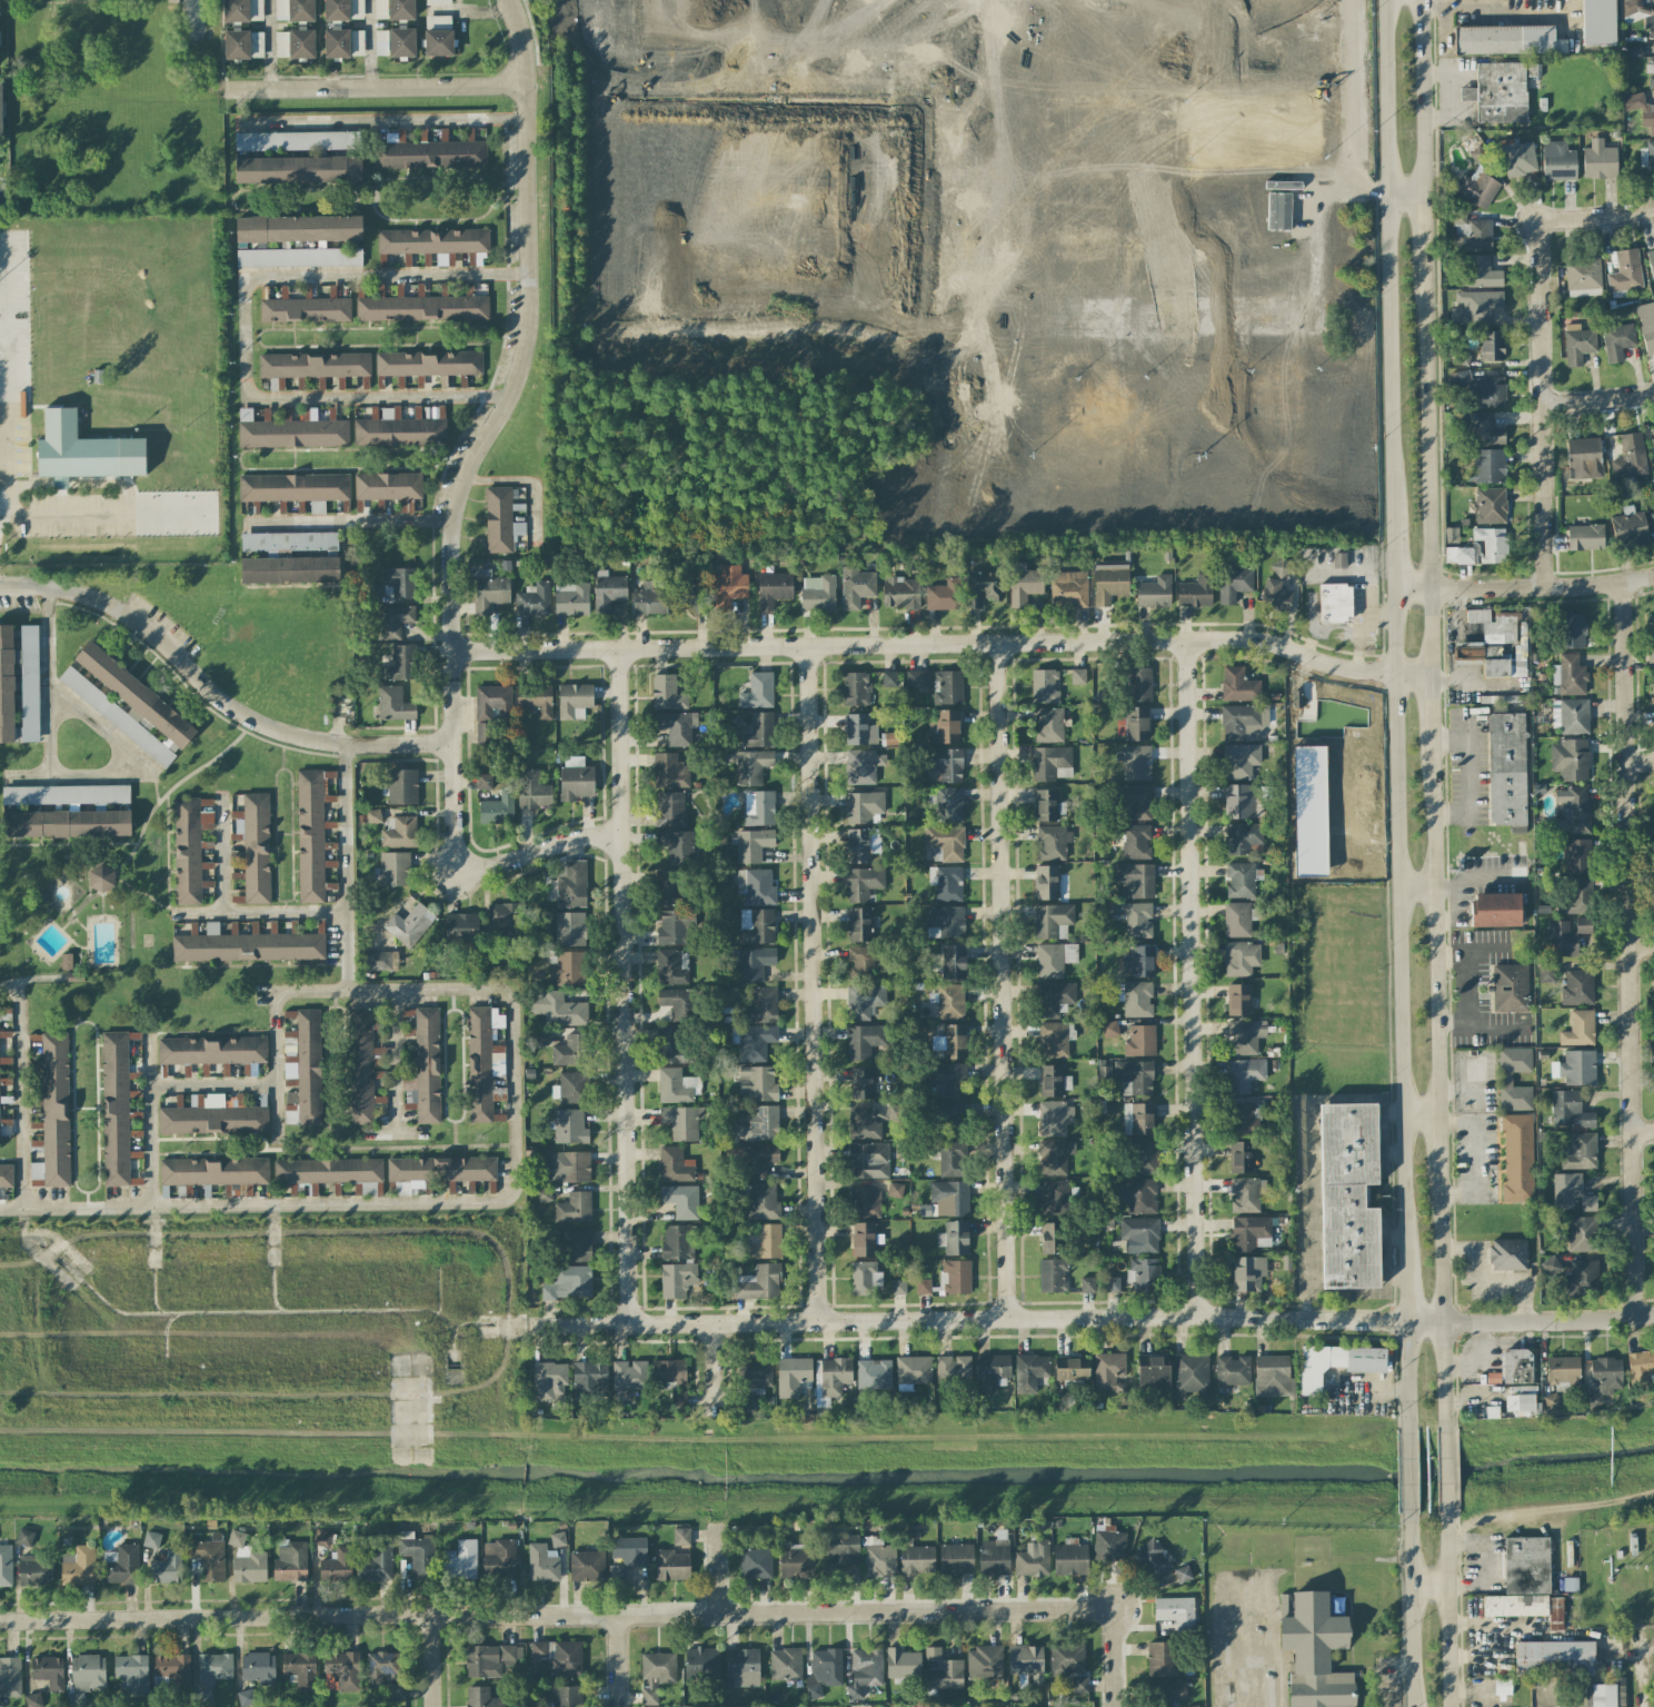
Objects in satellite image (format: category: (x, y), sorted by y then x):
building: (437, 2)
building: (1307, 3)
building: (1218, 4)
road: (1469, 7)
road: (1033, 8)
road: (1167, 8)
building: (357, 9)
building: (380, 9)
building: (400, 9)
building: (242, 10)
building: (293, 10)
building: (336, 10)
road: (467, 11)
building: (1638, 13)
park: (749, 16)
road: (196, 18)
building: (437, 22)
building: (1597, 22)
park: (1165, 40)
building: (1507, 40)
building: (358, 42)
building: (380, 42)
building: (401, 42)
building: (438, 42)
road: (268, 43)
building: (295, 43)
building: (336, 43)
road: (368, 43)
building: (242, 44)
building: (1634, 52)
building: (1533, 70)
building: (1651, 71)
road: (377, 87)
building: (1498, 92)
road: (1418, 96)
road: (601, 102)
park: (755, 103)
road: (1357, 107)
building: (1643, 111)
building: (0, 112)
road: (380, 120)
park: (1302, 127)
park: (1238, 128)
park: (1269, 128)
park: (1206, 129)
building: (293, 141)
building: (429, 152)
building: (1646, 156)
building: (1518, 159)
building: (1598, 160)
building: (1557, 161)
building: (298, 170)
building: (1477, 188)
road: (1403, 191)
road: (1421, 215)
road: (1595, 216)
building: (298, 229)
building: (1471, 231)
park: (756, 236)
building: (432, 241)
building: (298, 257)
road: (1385, 261)
building: (1651, 262)
building: (1625, 271)
building: (1484, 272)
park: (955, 275)
building: (1583, 276)
building: (1473, 305)
road: (760, 307)
building: (421, 308)
building: (305, 309)
road: (245, 324)
building: (1646, 325)
building: (1617, 340)
building: (1577, 344)
building: (1491, 346)
building: (428, 363)
building: (311, 366)
building: (1482, 389)
road: (1597, 401)
road: (1540, 403)
building: (400, 428)
building: (1483, 430)
building: (290, 431)
building: (1652, 433)
building: (83, 451)
road: (1425, 454)
road: (6, 456)
road: (475, 456)
building: (1630, 457)
building: (1583, 458)
building: (1653, 464)
building: (1488, 466)
building: (389, 487)
building: (295, 488)
building: (1489, 506)
road: (66, 516)
building: (1652, 518)
building: (500, 520)
road: (347, 522)
building: (1628, 527)
building: (1451, 535)
building: (1585, 537)
building: (1479, 548)
road: (1388, 556)
building: (290, 557)
building: (1338, 559)
building: (1281, 567)
road: (1348, 569)
building: (399, 583)
building: (1109, 583)
building: (1233, 583)
building: (1023, 584)
building: (729, 586)
building: (856, 586)
building: (982, 587)
building: (1069, 588)
road: (1522, 588)
building: (773, 589)
building: (607, 590)
building: (489, 592)
building: (1154, 592)
building: (1195, 592)
building: (817, 593)
building: (900, 593)
building: (944, 595)
building: (690, 596)
building: (1275, 596)
building: (570, 598)
building: (650, 598)
building: (532, 599)
building: (1335, 603)
road: (1378, 614)
building: (392, 621)
building: (1651, 624)
building: (1494, 626)
road: (1363, 629)
building: (1573, 631)
road: (941, 645)
building: (1467, 651)
building: (1650, 654)
building: (399, 664)
building: (1506, 665)
building: (1568, 675)
road: (58, 676)
building: (1077, 676)
building: (888, 678)
building: (916, 678)
building: (6, 683)
building: (29, 683)
building: (1138, 684)
building: (1238, 685)
building: (1044, 686)
building: (947, 687)
building: (856, 688)
building: (757, 692)
building: (666, 693)
building: (134, 694)
road: (213, 695)
building: (1296, 698)
building: (535, 701)
building: (574, 701)
building: (392, 704)
building: (1652, 704)
road: (1427, 705)
building: (490, 709)
building: (1570, 716)
building: (116, 717)
building: (1243, 722)
building: (1136, 724)
building: (1048, 725)
building: (947, 726)
building: (676, 727)
building: (859, 730)
building: (756, 731)
road: (1448, 738)
building: (1570, 760)
building: (1239, 761)
building: (1052, 763)
building: (1136, 763)
building: (947, 764)
road: (1641, 765)
building: (749, 766)
building: (861, 766)
road: (161, 770)
building: (669, 771)
building: (1506, 771)
building: (575, 778)
building: (484, 782)
road: (1468, 782)
building: (401, 786)
building: (532, 790)
building: (1136, 801)
building: (1238, 801)
building: (1653, 802)
building: (948, 805)
building: (1046, 805)
building: (863, 806)
building: (758, 807)
building: (497, 808)
building: (670, 808)
building: (1309, 810)
building: (1572, 811)
building: (67, 812)
building: (372, 816)
building: (312, 833)
building: (400, 833)
building: (1242, 837)
building: (1135, 841)
road: (568, 842)
building: (946, 842)
building: (1052, 843)
building: (753, 845)
building: (857, 845)
building: (677, 846)
building: (190, 847)
building: (253, 847)
building: (1576, 855)
road: (350, 862)
road: (228, 863)
building: (395, 869)
building: (1653, 870)
building: (100, 877)
building: (1135, 880)
building: (1239, 880)
building: (946, 882)
building: (1046, 882)
building: (863, 883)
road: (1468, 883)
building: (570, 884)
building: (755, 886)
building: (672, 887)
road: (1413, 892)
building: (1575, 897)
building: (1493, 907)
road: (260, 915)
building: (505, 919)
building: (1135, 919)
building: (1238, 919)
building: (946, 920)
building: (1052, 921)
building: (859, 924)
building: (408, 925)
building: (1583, 925)
building: (675, 926)
building: (756, 926)
building: (460, 927)
road: (1432, 927)
building: (569, 929)
road: (1395, 931)
building: (1562, 940)
building: (246, 945)
road: (1631, 950)
road: (1643, 951)
building: (1054, 959)
building: (1240, 959)
building: (66, 961)
building: (378, 961)
building: (1142, 961)
building: (953, 962)
building: (754, 963)
building: (859, 963)
building: (671, 966)
building: (567, 969)
building: (1545, 971)
road: (1193, 977)
road: (1004, 982)
road: (815, 984)
road: (625, 986)
building: (1509, 988)
building: (1577, 988)
road: (1469, 989)
building: (1653, 993)
building: (1054, 999)
building: (1136, 999)
building: (1238, 1000)
building: (864, 1001)
building: (949, 1002)
building: (678, 1004)
building: (763, 1005)
building: (557, 1008)
building: (1578, 1029)
building: (1109, 1030)
building: (1244, 1035)
building: (539, 1038)
building: (1054, 1039)
building: (864, 1040)
building: (955, 1041)
building: (1139, 1041)
building: (755, 1042)
building: (670, 1045)
building: (211, 1050)
building: (570, 1050)
road: (396, 1058)
building: (361, 1065)
building: (482, 1066)
building: (1575, 1068)
building: (425, 1069)
building: (302, 1070)
building: (1104, 1072)
building: (1243, 1074)
building: (1134, 1078)
building: (1505, 1079)
road: (27, 1080)
building: (949, 1081)
building: (1054, 1081)
road: (216, 1082)
building: (758, 1083)
building: (863, 1083)
building: (676, 1086)
building: (570, 1088)
road: (1469, 1088)
building: (1106, 1106)
building: (116, 1109)
building: (1570, 1109)
building: (53, 1114)
road: (1387, 1114)
road: (1418, 1114)
building: (212, 1115)
building: (1244, 1117)
road: (155, 1118)
building: (1054, 1118)
building: (1137, 1119)
building: (950, 1120)
building: (868, 1121)
building: (681, 1122)
building: (757, 1125)
building: (569, 1127)
road: (400, 1132)
road: (1644, 1133)
road: (1437, 1145)
building: (34, 1147)
road: (517, 1149)
building: (1581, 1152)
road: (1388, 1153)
building: (1143, 1155)
building: (1054, 1157)
building: (1240, 1157)
road: (1472, 1157)
building: (1517, 1157)
building: (951, 1159)
building: (757, 1160)
building: (868, 1160)
building: (675, 1165)
building: (568, 1167)
building: (440, 1170)
building: (215, 1172)
building: (332, 1173)
building: (6, 1175)
building: (402, 1189)
building: (895, 1190)
building: (1565, 1190)
building: (544, 1194)
building: (1246, 1194)
building: (1137, 1195)
building: (1348, 1195)
building: (1055, 1197)
building: (949, 1198)
building: (681, 1200)
building: (763, 1202)
building: (865, 1202)
building: (1587, 1203)
building: (574, 1208)
road: (1305, 1210)
building: (1251, 1233)
building: (1582, 1233)
building: (1139, 1234)
building: (954, 1238)
building: (1052, 1238)
road: (1392, 1238)
building: (864, 1239)
building: (677, 1242)
building: (764, 1242)
building: (577, 1245)
building: (1507, 1254)
building: (1551, 1266)
building: (1143, 1273)
building: (1247, 1273)
building: (1052, 1276)
building: (1583, 1276)
building: (956, 1277)
road: (1393, 1277)
building: (864, 1278)
building: (676, 1279)
building: (568, 1282)
building: (758, 1282)
building: (1112, 1283)
building: (1087, 1284)
building: (899, 1287)
building: (923, 1287)
road: (1403, 1296)
road: (1441, 1301)
road: (1104, 1317)
building: (1336, 1363)
building: (1641, 1363)
building: (1516, 1366)
road: (714, 1367)
building: (913, 1369)
building: (953, 1369)
building: (1072, 1369)
building: (669, 1370)
building: (1107, 1370)
building: (1233, 1370)
building: (1562, 1370)
building: (1029, 1372)
building: (1152, 1372)
building: (874, 1373)
building: (990, 1373)
building: (629, 1374)
building: (793, 1374)
building: (1189, 1374)
building: (833, 1376)
road: (1404, 1376)
building: (1272, 1377)
building: (587, 1378)
building: (1603, 1379)
building: (549, 1381)
building: (753, 1382)
building: (1521, 1390)
building: (677, 1400)
building: (1521, 1402)
road: (1443, 1469)
road: (1405, 1470)
building: (23, 1537)
building: (680, 1537)
building: (321, 1538)
building: (151, 1539)
building: (557, 1539)
building: (1108, 1544)
building: (841, 1548)
building: (417, 1554)
building: (994, 1556)
building: (1155, 1556)
building: (210, 1557)
building: (878, 1557)
building: (498, 1558)
building: (1069, 1558)
building: (955, 1559)
building: (1032, 1559)
building: (246, 1560)
building: (460, 1560)
building: (916, 1560)
building: (290, 1561)
building: (542, 1562)
building: (795, 1562)
building: (376, 1564)
building: (755, 1564)
building: (120, 1565)
building: (670, 1565)
building: (6, 1566)
building: (336, 1566)
building: (587, 1566)
building: (78, 1567)
building: (166, 1567)
road: (718, 1569)
building: (34, 1570)
building: (1183, 1574)
road: (1264, 1574)
building: (1526, 1584)
road: (1426, 1588)
road: (1408, 1607)
road: (1445, 1608)
building: (1175, 1611)
road: (604, 1614)
road: (1484, 1624)
building: (1315, 1653)
building: (560, 1656)
road: (1471, 1656)
building: (1554, 1658)
road: (1642, 1658)
building: (490, 1659)
building: (1160, 1659)
road: (431, 1660)
road: (618, 1660)
building: (1026, 1661)
building: (700, 1663)
building: (984, 1663)
building: (785, 1664)
building: (903, 1664)
building: (1069, 1665)
building: (215, 1666)
building: (380, 1667)
building: (741, 1667)
building: (258, 1668)
building: (300, 1669)
building: (343, 1669)
building: (171, 1670)
building: (864, 1670)
building: (943, 1670)
building: (48, 1671)
building: (132, 1671)
building: (824, 1671)
building: (88, 1673)
building: (656, 1675)
road: (1385, 1676)
building: (10, 1677)
building: (1503, 1686)
flagpole: (1465, 1688)
building: (1170, 1689)
building: (396, 1690)
road: (1473, 1693)
building: (1603, 1695)
building: (566, 1696)
building: (481, 1697)
building: (246, 1698)
building: (76, 1699)
building: (32, 1700)
flagpole: (1465, 1703)
building: (1193, 1706)

